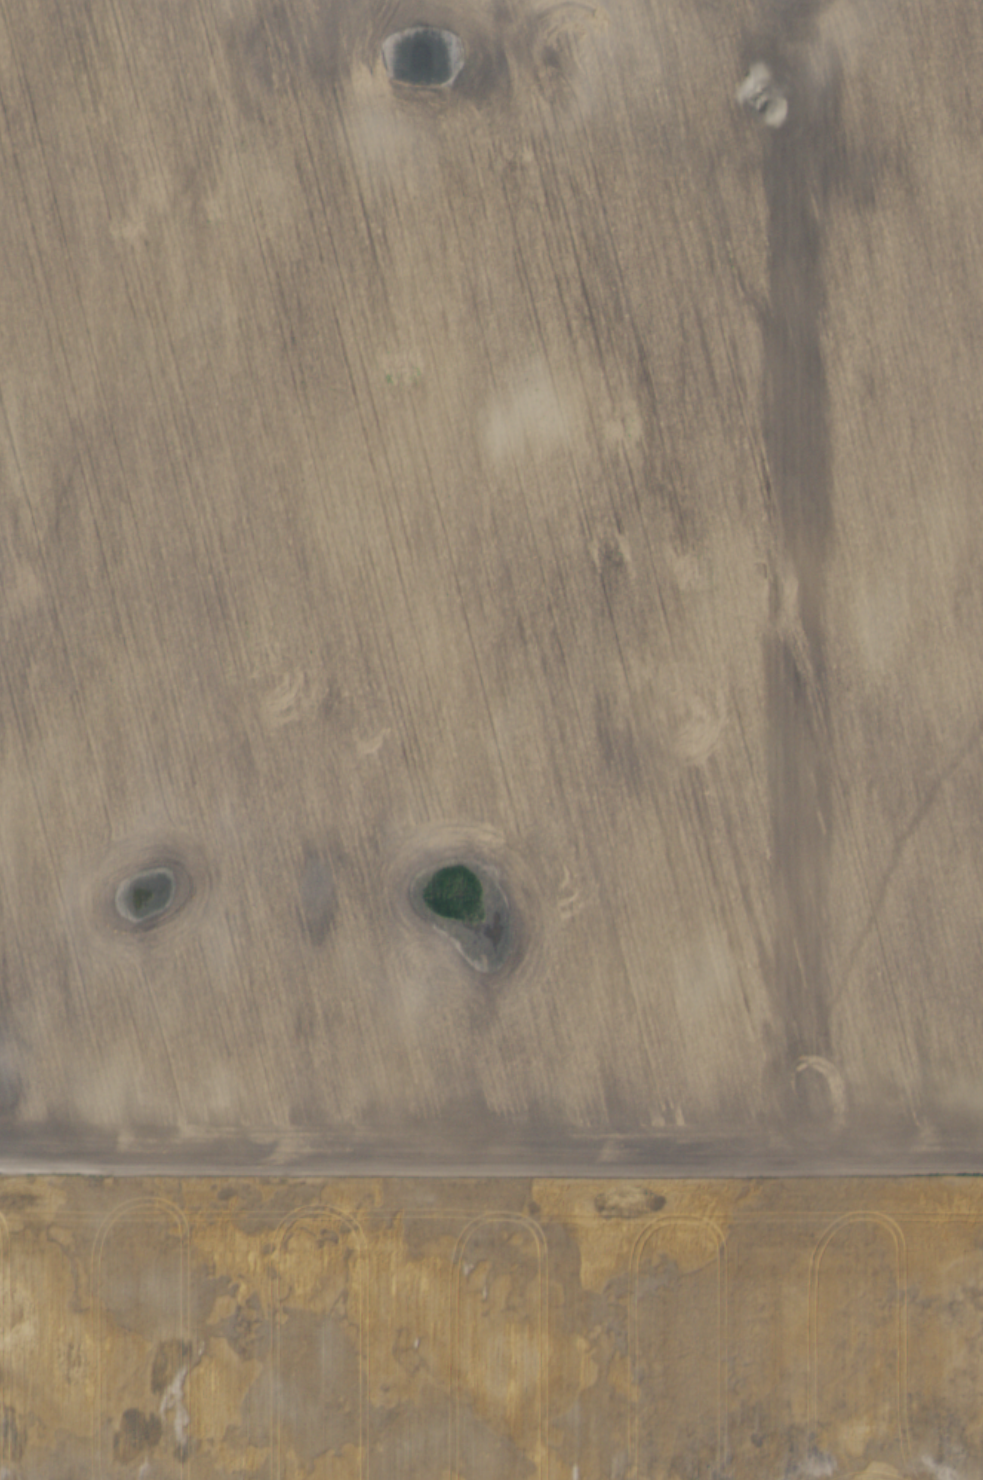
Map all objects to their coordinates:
road: (491, 1168)

